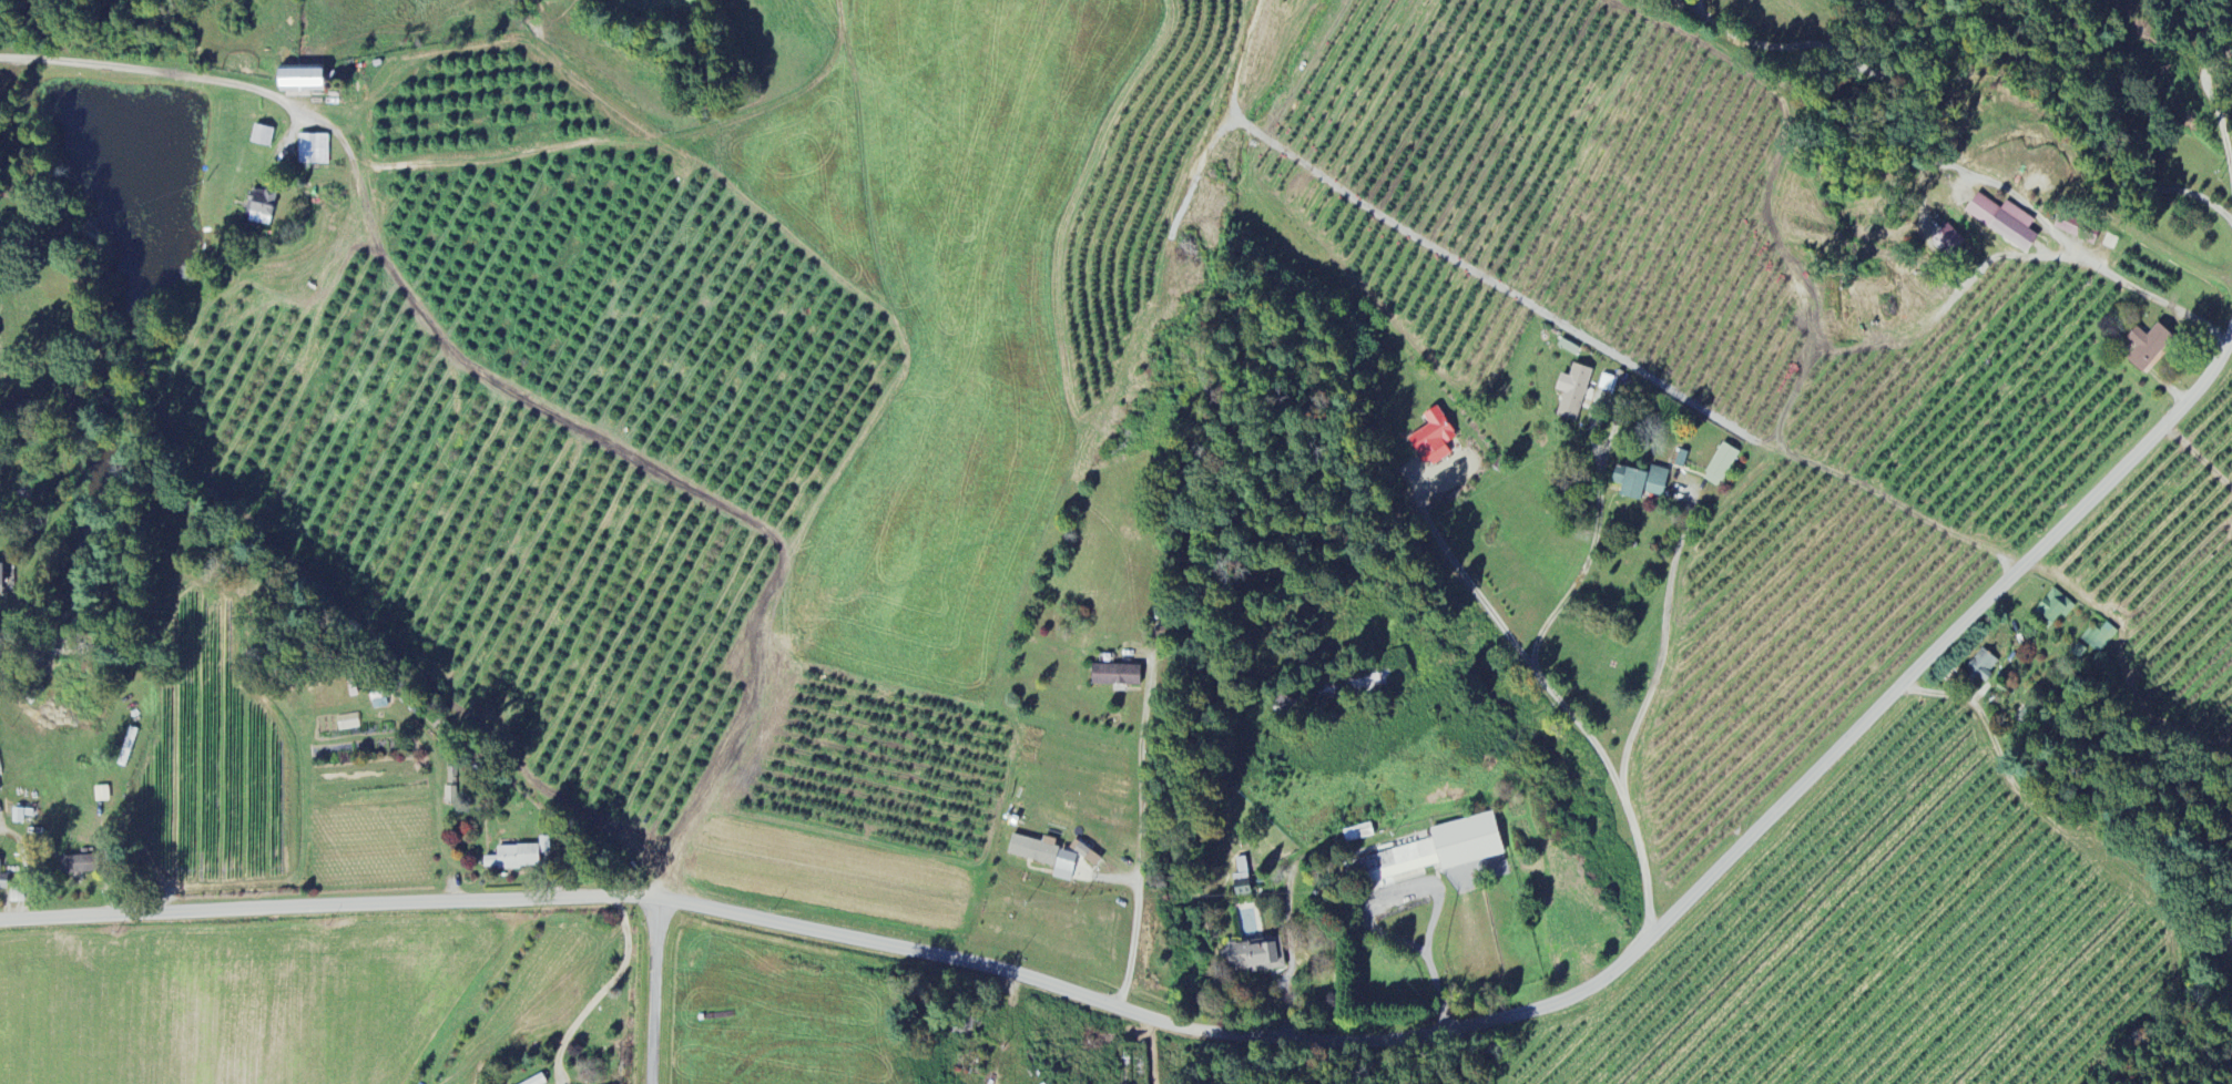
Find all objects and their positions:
road: (1981, 48)
road: (156, 74)
building: (298, 79)
road: (2215, 108)
building: (262, 136)
building: (313, 150)
building: (259, 208)
building: (2004, 222)
building: (1947, 242)
road: (2153, 297)
building: (2148, 347)
building: (1572, 392)
building: (1433, 439)
road: (1781, 442)
dam: (126, 458)
building: (1720, 467)
road: (1586, 567)
building: (1, 579)
building: (2055, 607)
building: (2099, 638)
road: (1664, 653)
building: (1979, 668)
building: (1385, 674)
building: (1112, 676)
road: (1561, 700)
road: (1142, 770)
building: (101, 795)
building: (1358, 834)
building: (1033, 849)
building: (1434, 852)
building: (1084, 853)
building: (513, 858)
building: (73, 866)
building: (0, 876)
building: (1241, 879)
road: (1436, 893)
road: (1133, 937)
building: (2231, 941)
building: (1254, 957)
road: (654, 992)
road: (601, 993)
road: (1286, 1002)
road: (1261, 1041)
road: (1457, 1063)
building: (538, 1080)

